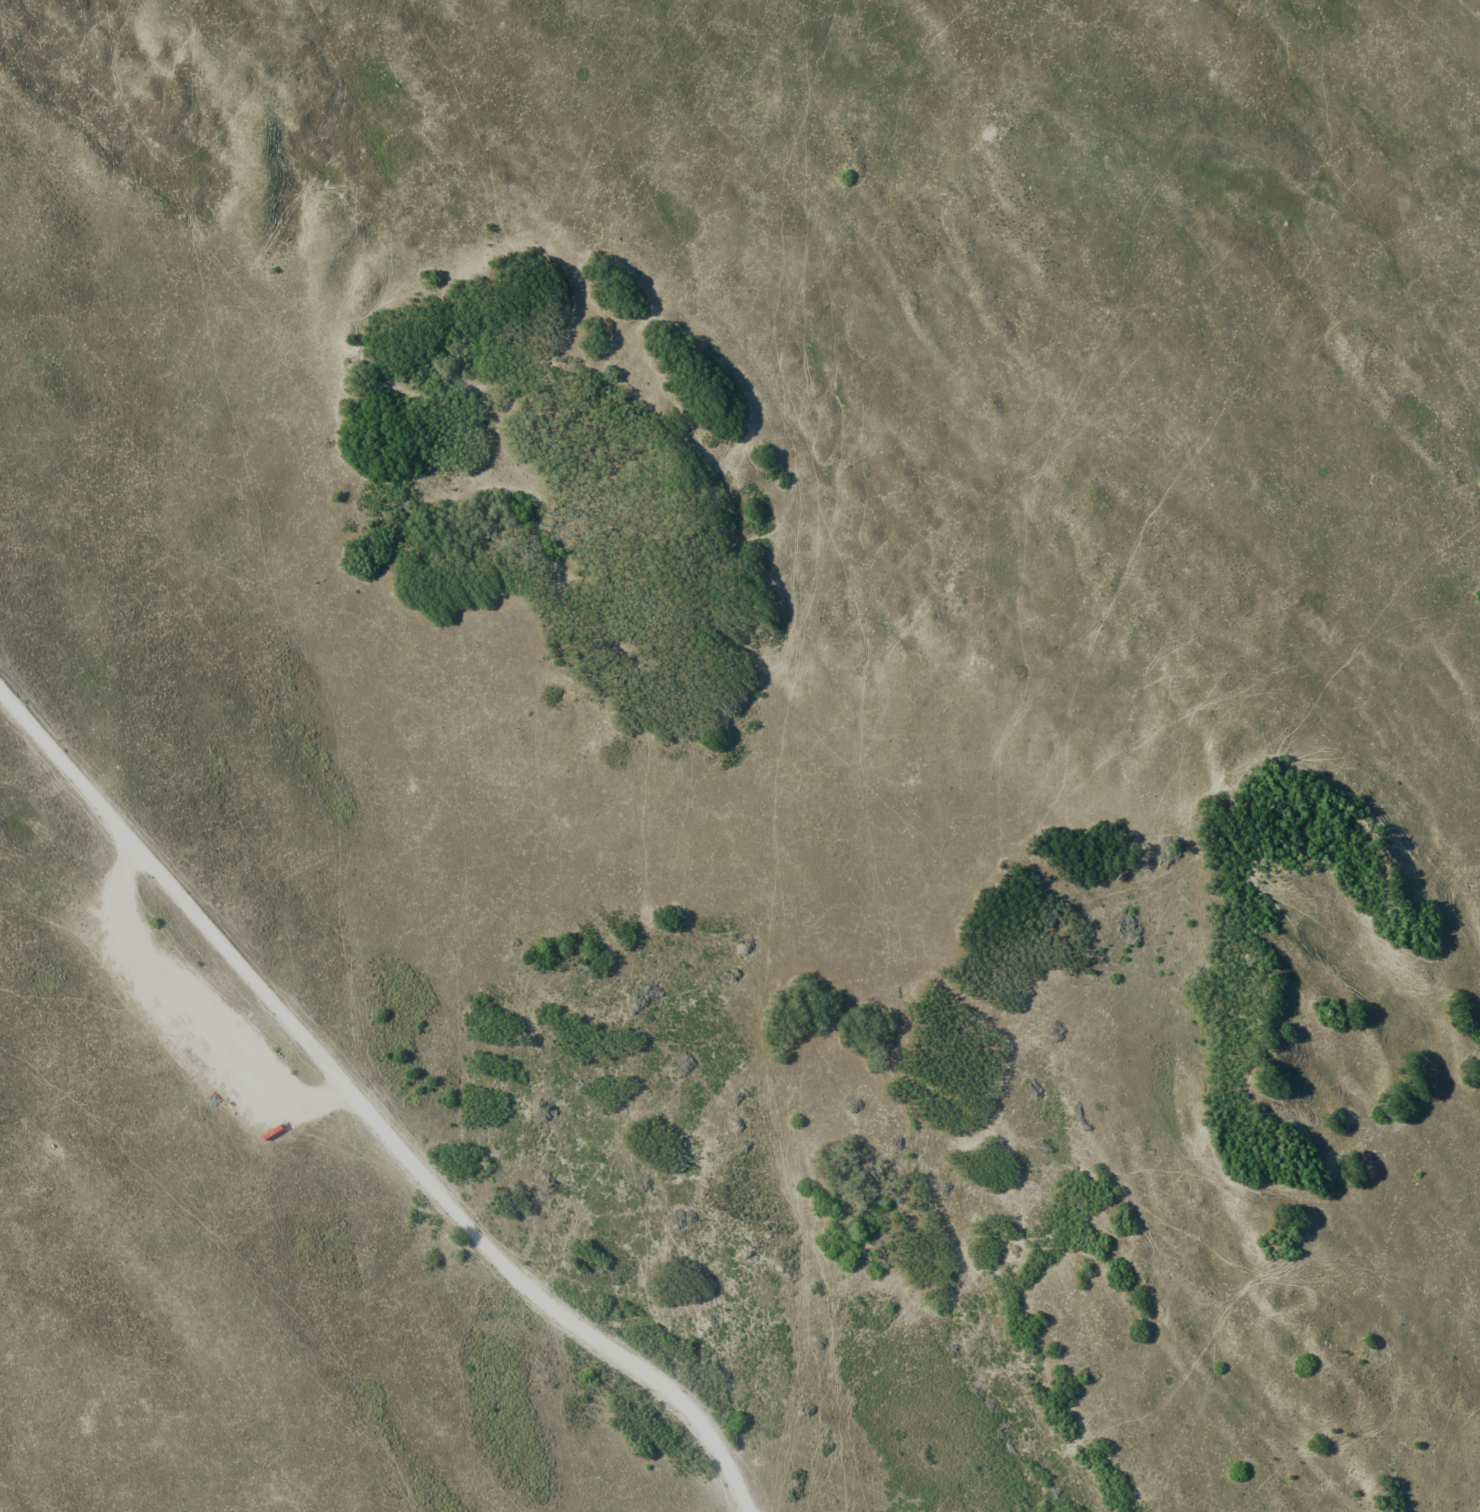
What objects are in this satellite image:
road: (419, 1184)

